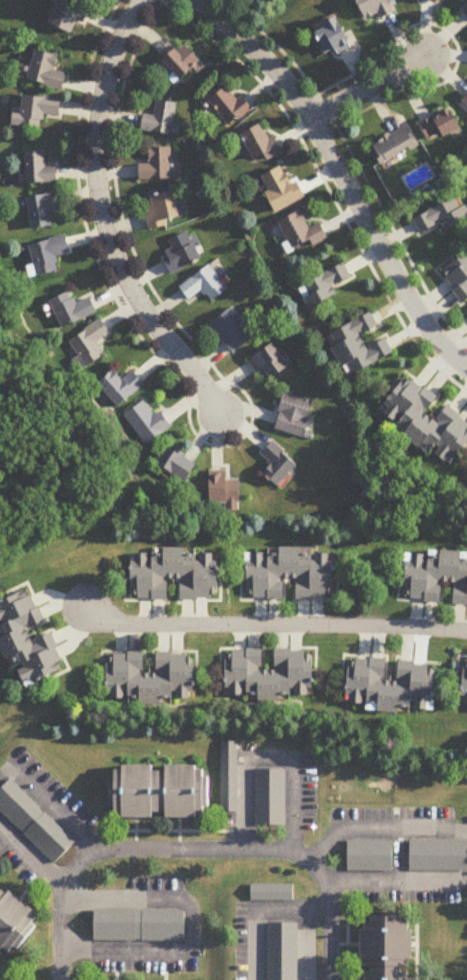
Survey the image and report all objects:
building: (426, 0)
building: (368, 8)
building: (464, 10)
building: (70, 15)
building: (325, 37)
building: (183, 62)
building: (47, 71)
road: (367, 86)
building: (463, 100)
building: (230, 108)
building: (36, 112)
building: (160, 120)
building: (433, 125)
building: (386, 145)
building: (259, 146)
building: (157, 166)
building: (40, 169)
road: (342, 176)
building: (275, 190)
building: (43, 210)
building: (164, 211)
building: (435, 217)
road: (104, 218)
building: (296, 232)
building: (182, 254)
building: (48, 256)
building: (455, 276)
building: (205, 285)
building: (318, 286)
building: (72, 310)
building: (466, 312)
building: (233, 330)
building: (89, 345)
building: (353, 346)
building: (269, 363)
building: (122, 388)
building: (295, 415)
building: (420, 421)
building: (147, 423)
building: (178, 464)
building: (278, 464)
building: (225, 491)
building: (290, 574)
building: (177, 575)
building: (436, 576)
road: (278, 626)
building: (28, 640)
building: (269, 675)
building: (152, 678)
building: (391, 686)
building: (465, 695)
road: (269, 758)
building: (229, 777)
building: (160, 788)
parking lot: (270, 795)
building: (270, 799)
road: (50, 804)
parking lot: (34, 822)
building: (34, 824)
road: (381, 828)
parking lot: (436, 851)
road: (190, 852)
parking lot: (368, 852)
road: (32, 855)
road: (398, 855)
building: (434, 855)
building: (368, 856)
road: (395, 882)
building: (272, 893)
road: (257, 910)
road: (328, 917)
building: (15, 918)
road: (59, 921)
parking lot: (134, 922)
road: (191, 926)
building: (139, 927)
road: (305, 944)
building: (387, 946)
parking lot: (281, 949)
building: (282, 952)

